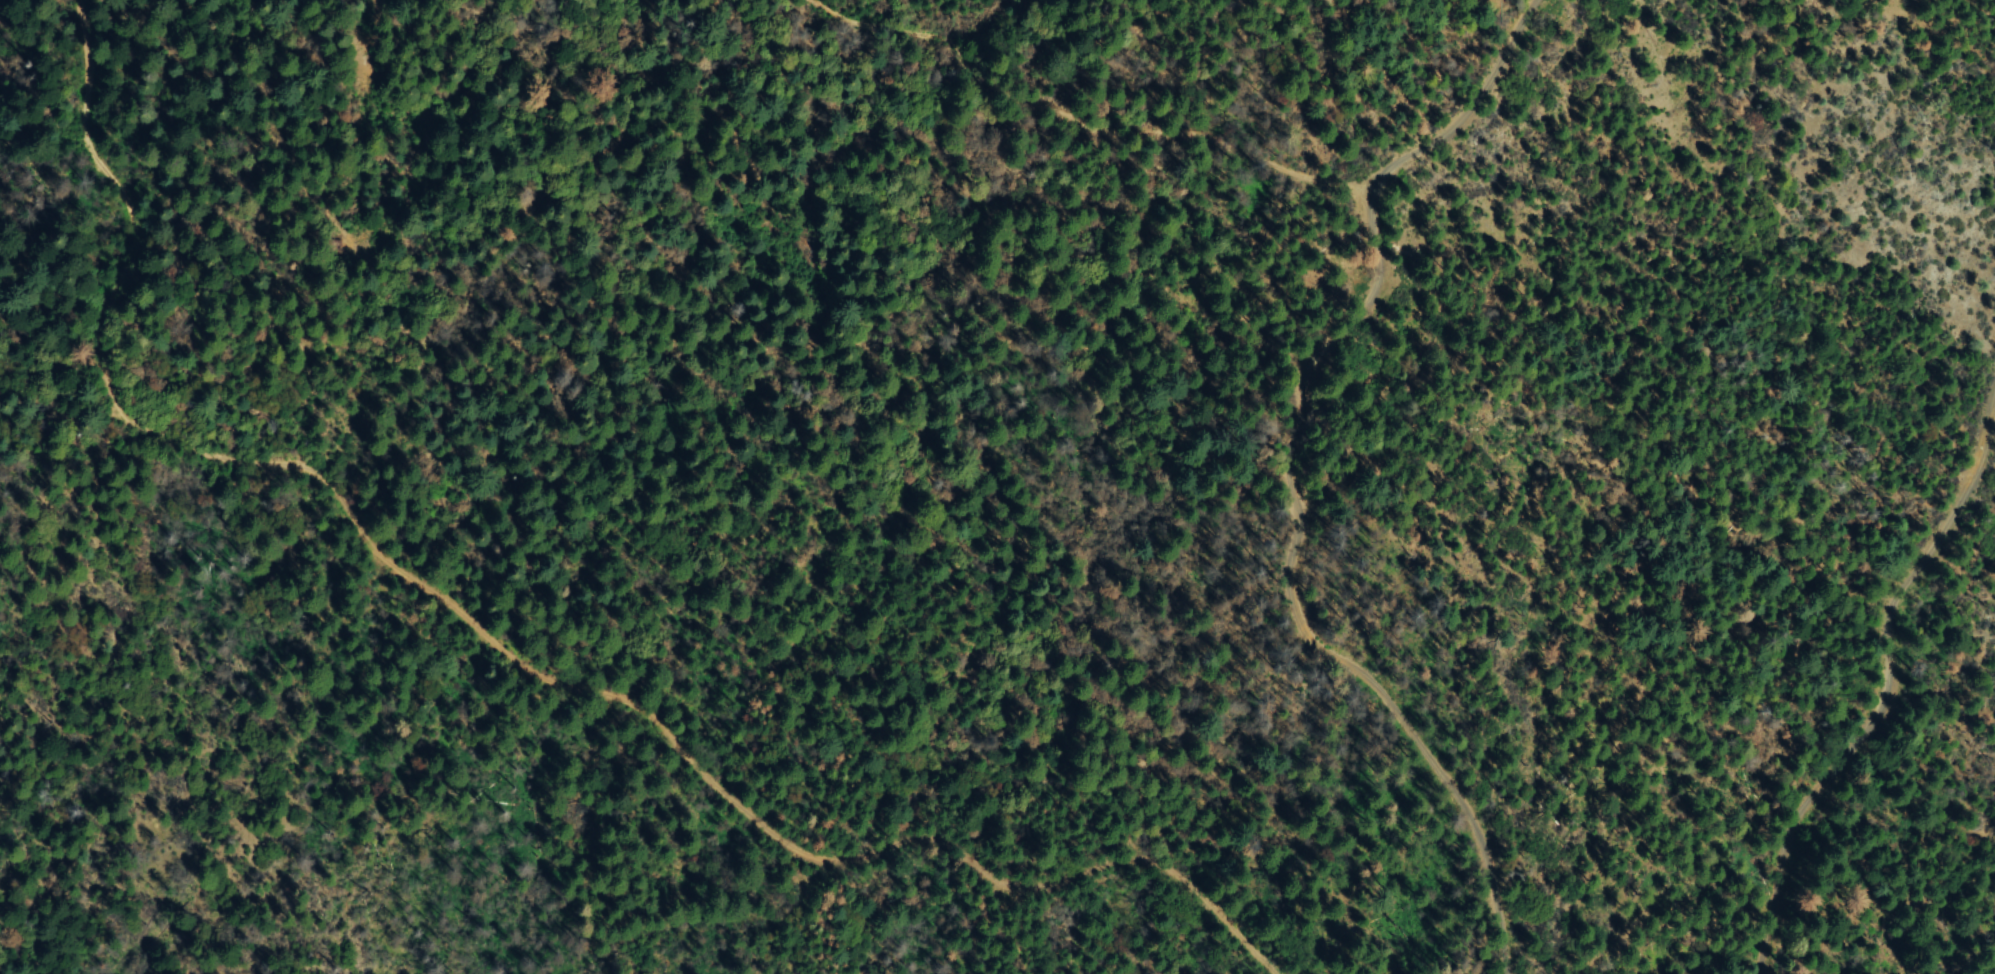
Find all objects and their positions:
road: (1321, 471)
road: (530, 638)
road: (1861, 683)

